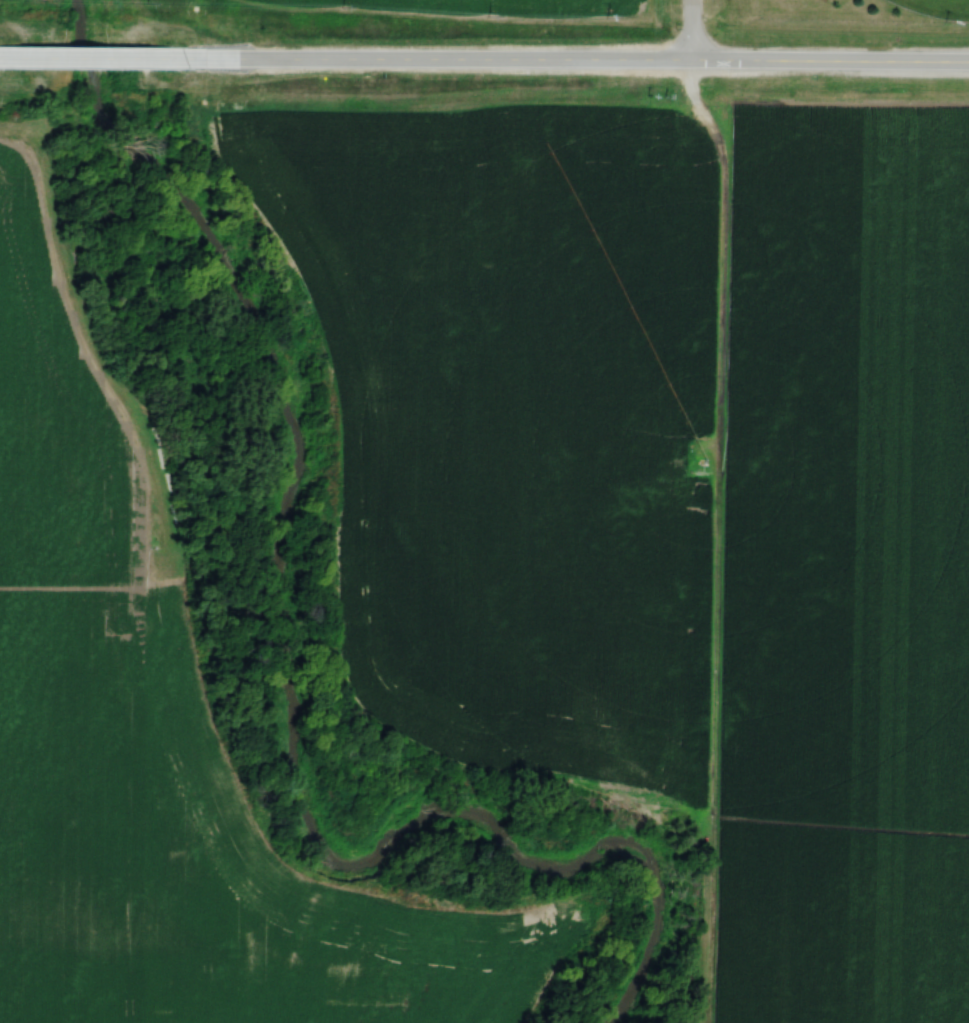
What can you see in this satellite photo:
crop: (547, 5)
park: (937, 8)
road: (693, 30)
road: (83, 57)
road: (567, 60)
crop: (835, 561)
river: (291, 675)
crop: (160, 764)

